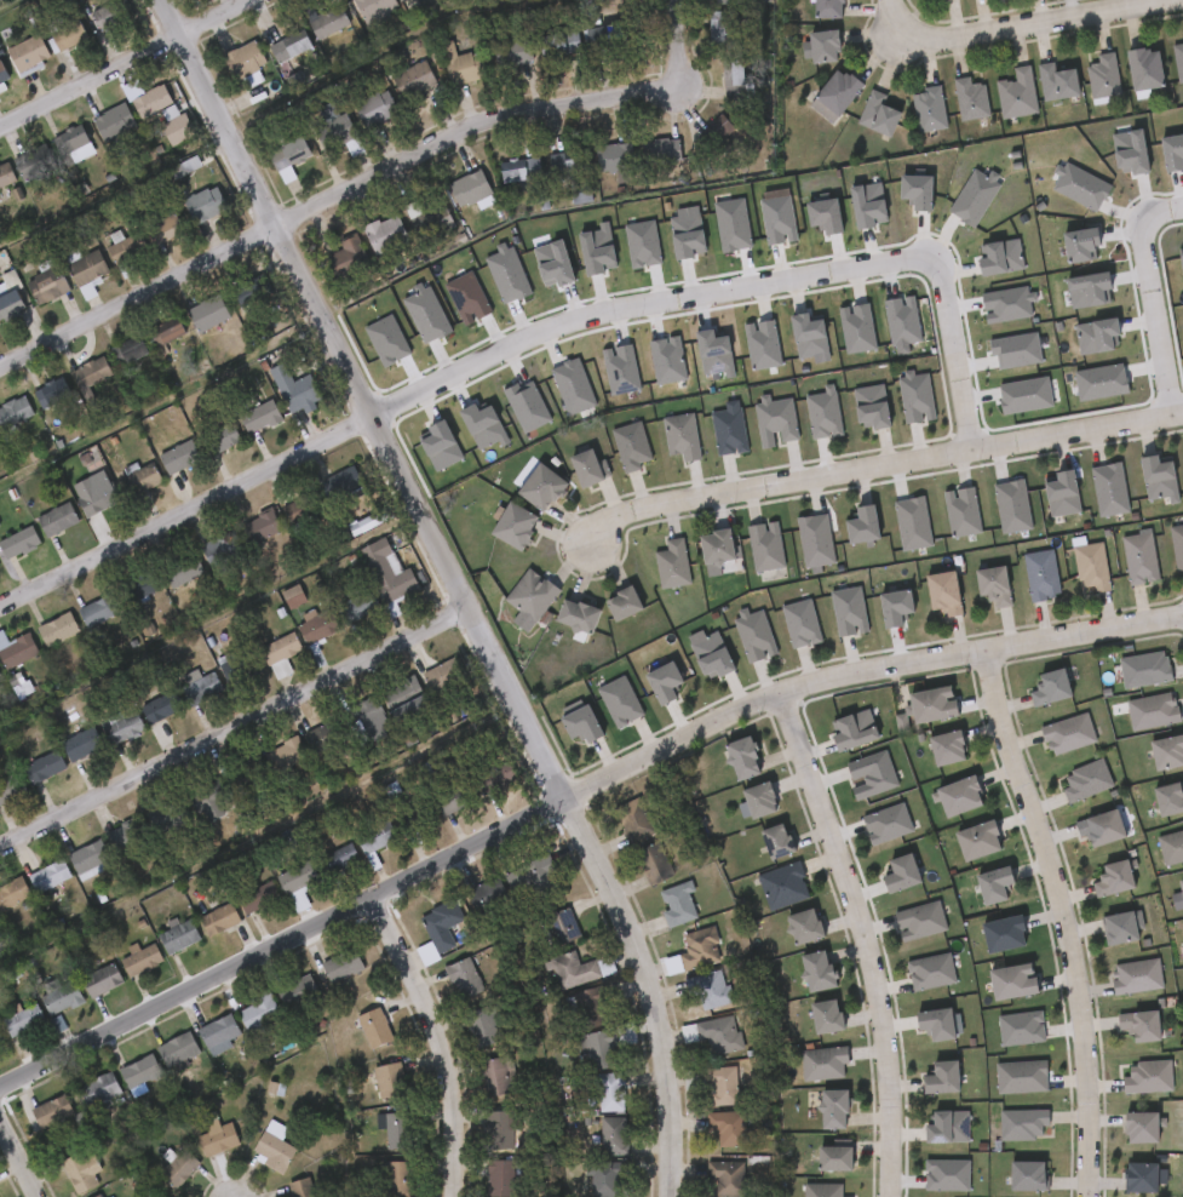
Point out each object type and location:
building: (628, 0)
building: (935, 0)
building: (829, 8)
building: (375, 10)
building: (111, 15)
road: (896, 16)
building: (328, 21)
road: (1038, 23)
building: (727, 29)
building: (85, 31)
building: (70, 35)
building: (604, 38)
building: (559, 45)
building: (292, 46)
building: (826, 46)
building: (48, 50)
building: (513, 52)
building: (29, 55)
building: (1178, 58)
building: (246, 62)
road: (125, 63)
building: (461, 64)
building: (1144, 69)
building: (4, 71)
building: (1104, 76)
building: (415, 79)
building: (734, 79)
building: (1058, 82)
building: (265, 93)
building: (1017, 93)
building: (835, 96)
building: (971, 98)
building: (153, 101)
building: (377, 107)
building: (929, 109)
building: (879, 114)
building: (132, 115)
building: (115, 121)
building: (178, 128)
building: (338, 134)
building: (93, 137)
building: (155, 139)
building: (74, 141)
building: (660, 150)
building: (618, 156)
building: (288, 157)
building: (34, 161)
building: (570, 164)
building: (521, 168)
building: (5, 173)
building: (170, 179)
road: (366, 182)
building: (471, 190)
building: (206, 204)
road: (1158, 211)
building: (429, 219)
building: (168, 227)
building: (385, 234)
building: (147, 242)
building: (124, 253)
building: (349, 256)
building: (105, 262)
building: (87, 269)
building: (67, 282)
building: (47, 286)
building: (248, 291)
building: (11, 304)
road: (638, 305)
building: (208, 313)
building: (1, 321)
road: (1156, 323)
building: (172, 331)
building: (132, 350)
road: (957, 353)
building: (109, 365)
building: (91, 374)
building: (70, 388)
building: (299, 393)
building: (53, 395)
building: (30, 407)
building: (15, 412)
building: (259, 414)
building: (223, 437)
building: (680, 437)
building: (631, 447)
building: (178, 458)
building: (586, 468)
road: (877, 469)
building: (140, 479)
building: (540, 488)
building: (345, 491)
building: (90, 494)
building: (120, 494)
building: (302, 509)
building: (74, 510)
road: (186, 514)
building: (57, 519)
building: (260, 526)
building: (512, 526)
building: (38, 533)
building: (18, 542)
building: (714, 548)
building: (765, 548)
building: (1177, 548)
building: (222, 549)
building: (1139, 559)
building: (672, 566)
building: (1091, 568)
building: (178, 571)
building: (387, 572)
building: (1040, 575)
building: (148, 582)
road: (458, 585)
building: (992, 585)
building: (293, 592)
building: (941, 594)
building: (530, 596)
building: (121, 602)
building: (621, 603)
building: (98, 609)
building: (576, 617)
building: (316, 625)
building: (75, 626)
building: (57, 630)
building: (38, 643)
building: (280, 649)
building: (16, 651)
building: (240, 669)
building: (1144, 670)
road: (862, 672)
building: (442, 677)
building: (661, 682)
building: (200, 687)
building: (1049, 688)
building: (408, 700)
building: (931, 705)
building: (160, 708)
building: (1153, 712)
building: (580, 721)
building: (367, 722)
building: (125, 728)
road: (235, 729)
building: (852, 732)
building: (1067, 735)
building: (321, 739)
building: (104, 743)
building: (81, 745)
building: (946, 750)
building: (1166, 754)
building: (61, 758)
building: (287, 760)
building: (741, 760)
building: (44, 768)
building: (500, 774)
building: (247, 779)
building: (1085, 781)
building: (11, 789)
building: (958, 797)
building: (449, 798)
building: (208, 800)
building: (1168, 800)
building: (757, 802)
building: (0, 809)
building: (631, 820)
building: (1101, 830)
building: (127, 834)
building: (375, 838)
building: (775, 842)
building: (976, 842)
building: (107, 844)
building: (1171, 848)
building: (87, 858)
building: (339, 859)
building: (650, 863)
building: (69, 874)
building: (898, 875)
building: (48, 876)
building: (532, 880)
building: (1113, 880)
building: (298, 883)
building: (992, 886)
building: (782, 887)
building: (12, 893)
building: (487, 897)
building: (1178, 897)
building: (258, 899)
building: (676, 906)
road: (1062, 918)
building: (219, 920)
building: (919, 922)
building: (442, 923)
building: (562, 926)
building: (803, 928)
building: (1119, 929)
building: (1003, 935)
building: (178, 937)
road: (862, 941)
road: (282, 945)
building: (695, 950)
building: (140, 961)
building: (343, 964)
building: (574, 969)
building: (815, 972)
building: (930, 973)
building: (464, 978)
building: (1136, 978)
building: (101, 980)
building: (1011, 983)
building: (298, 990)
building: (705, 990)
building: (62, 1000)
building: (591, 1007)
building: (38, 1009)
building: (259, 1010)
building: (825, 1018)
building: (22, 1021)
building: (934, 1025)
building: (1141, 1026)
building: (375, 1027)
building: (484, 1027)
building: (219, 1030)
building: (718, 1037)
road: (441, 1041)
building: (178, 1048)
building: (603, 1049)
building: (823, 1065)
building: (140, 1071)
building: (494, 1077)
building: (1020, 1078)
building: (1149, 1078)
building: (390, 1079)
building: (940, 1079)
building: (718, 1086)
building: (99, 1089)
building: (610, 1092)
building: (68, 1106)
building: (52, 1111)
building: (832, 1111)
building: (31, 1126)
building: (1021, 1126)
building: (727, 1127)
building: (398, 1129)
building: (500, 1129)
building: (1139, 1129)
building: (615, 1135)
building: (218, 1138)
building: (275, 1150)
road: (19, 1158)
building: (832, 1159)
building: (179, 1167)
building: (80, 1172)
building: (398, 1178)
building: (500, 1178)
building: (603, 1178)
building: (1027, 1178)
building: (723, 1179)
building: (1139, 1179)
building: (302, 1187)
building: (822, 1191)
building: (98, 1196)

